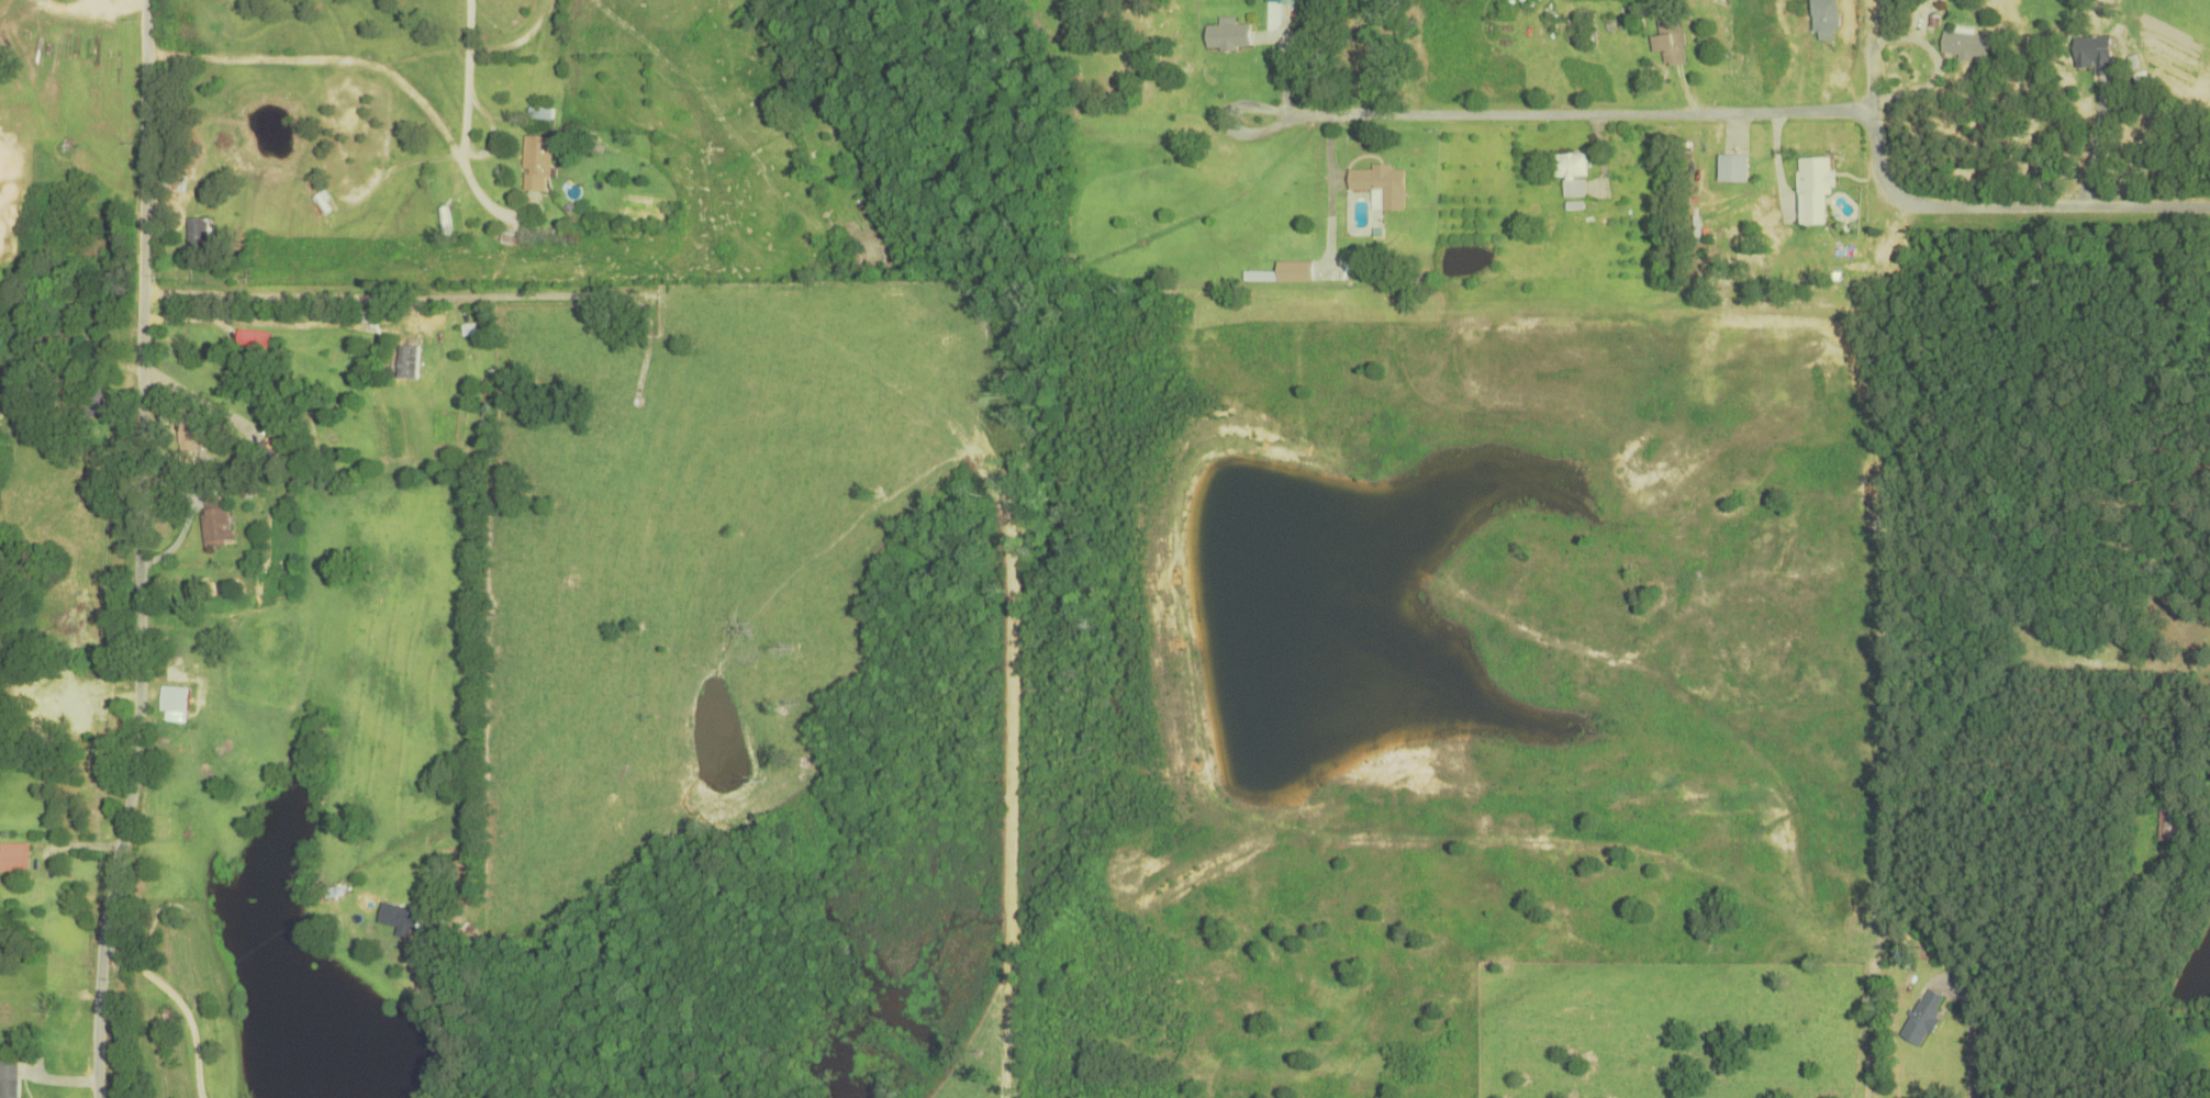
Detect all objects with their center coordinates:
building: (1287, 2)
building: (1227, 35)
road: (537, 37)
building: (1670, 42)
building: (1965, 45)
building: (2092, 53)
road: (1779, 112)
road: (1230, 121)
building: (536, 164)
building: (1732, 168)
building: (1571, 172)
building: (1381, 186)
building: (1815, 190)
building: (443, 208)
building: (197, 237)
building: (1283, 273)
road: (1775, 306)
road: (1861, 360)
building: (91, 404)
building: (578, 435)
building: (189, 441)
building: (269, 448)
building: (215, 523)
road: (165, 548)
building: (64, 707)
building: (233, 764)
building: (2168, 821)
building: (14, 858)
building: (398, 917)
building: (1922, 1017)
building: (1834, 1022)
building: (1720, 1066)
building: (9, 1080)
road: (74, 1084)

